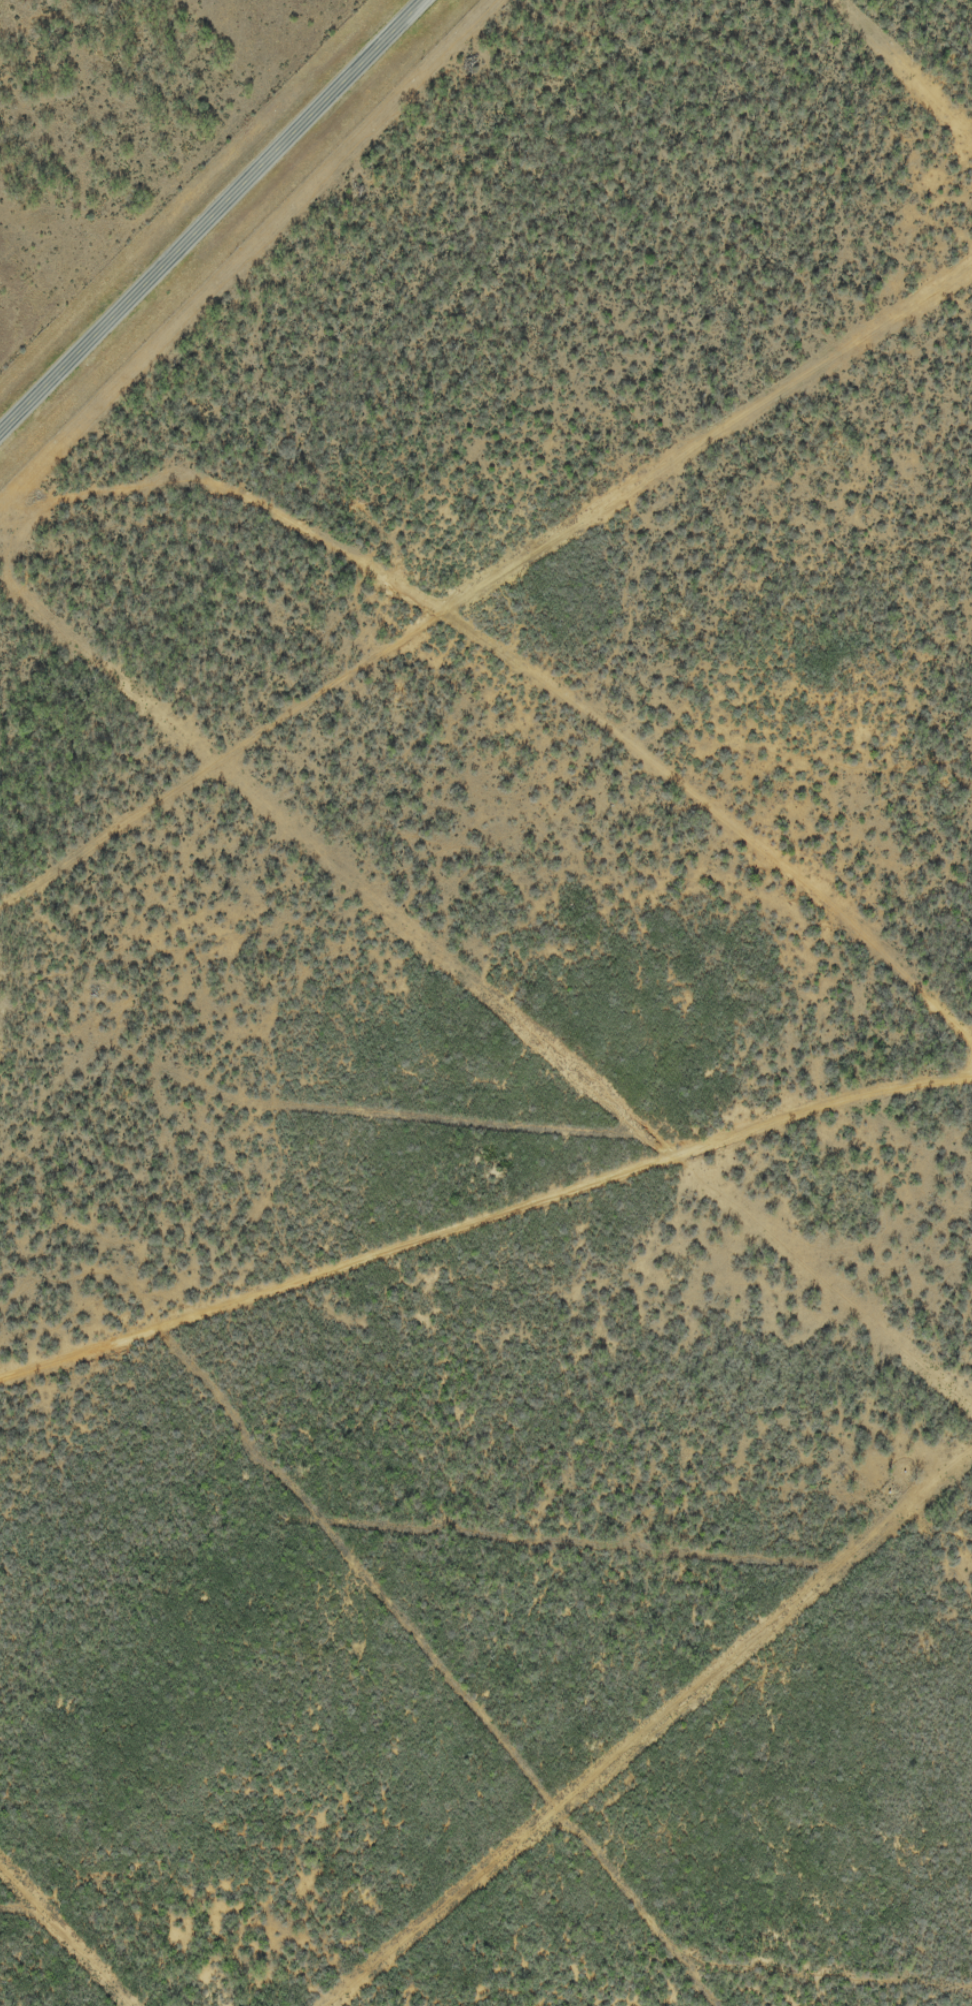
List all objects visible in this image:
road: (261, 54)
road: (213, 218)
road: (531, 683)
road: (482, 1236)

